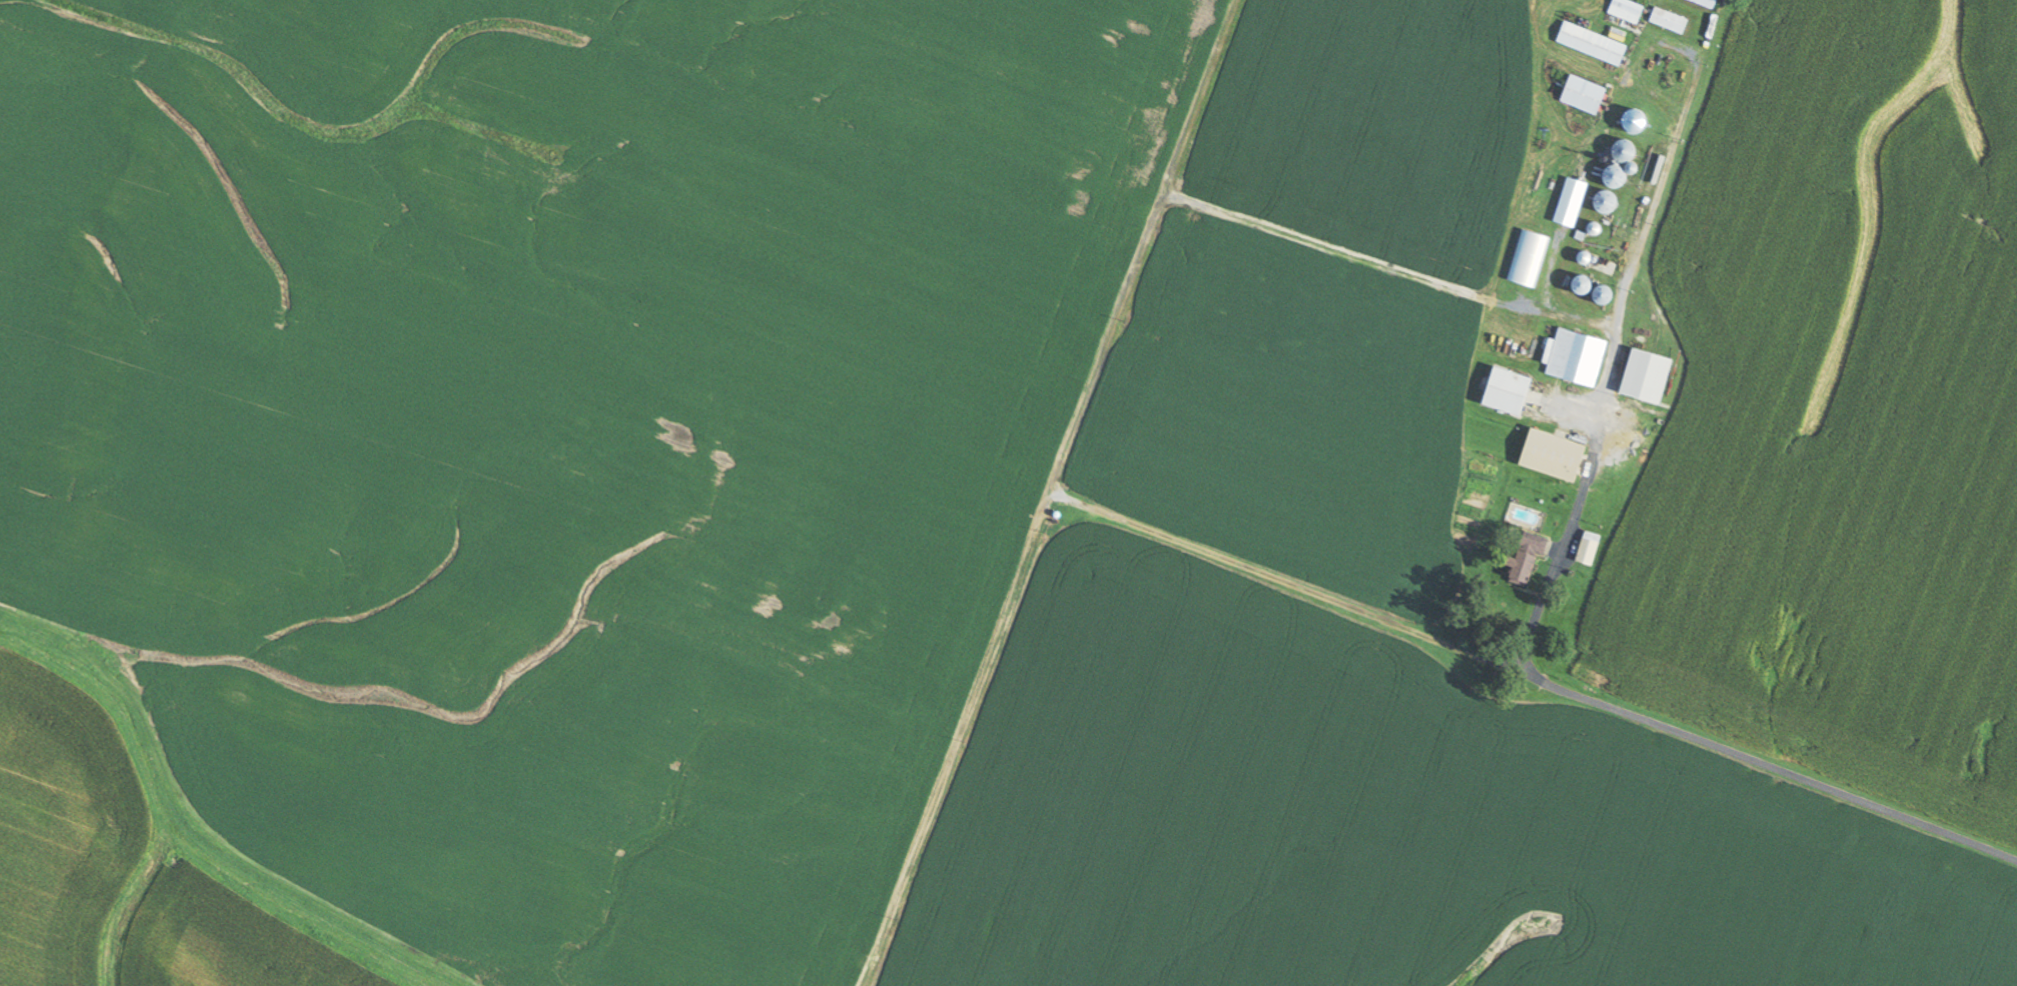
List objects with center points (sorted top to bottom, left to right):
building: (1703, 3)
building: (1624, 10)
building: (1666, 20)
building: (1589, 43)
building: (1580, 94)
building: (1573, 358)
building: (1642, 376)
building: (1501, 391)
building: (1547, 455)
building: (1584, 548)
building: (1522, 556)

